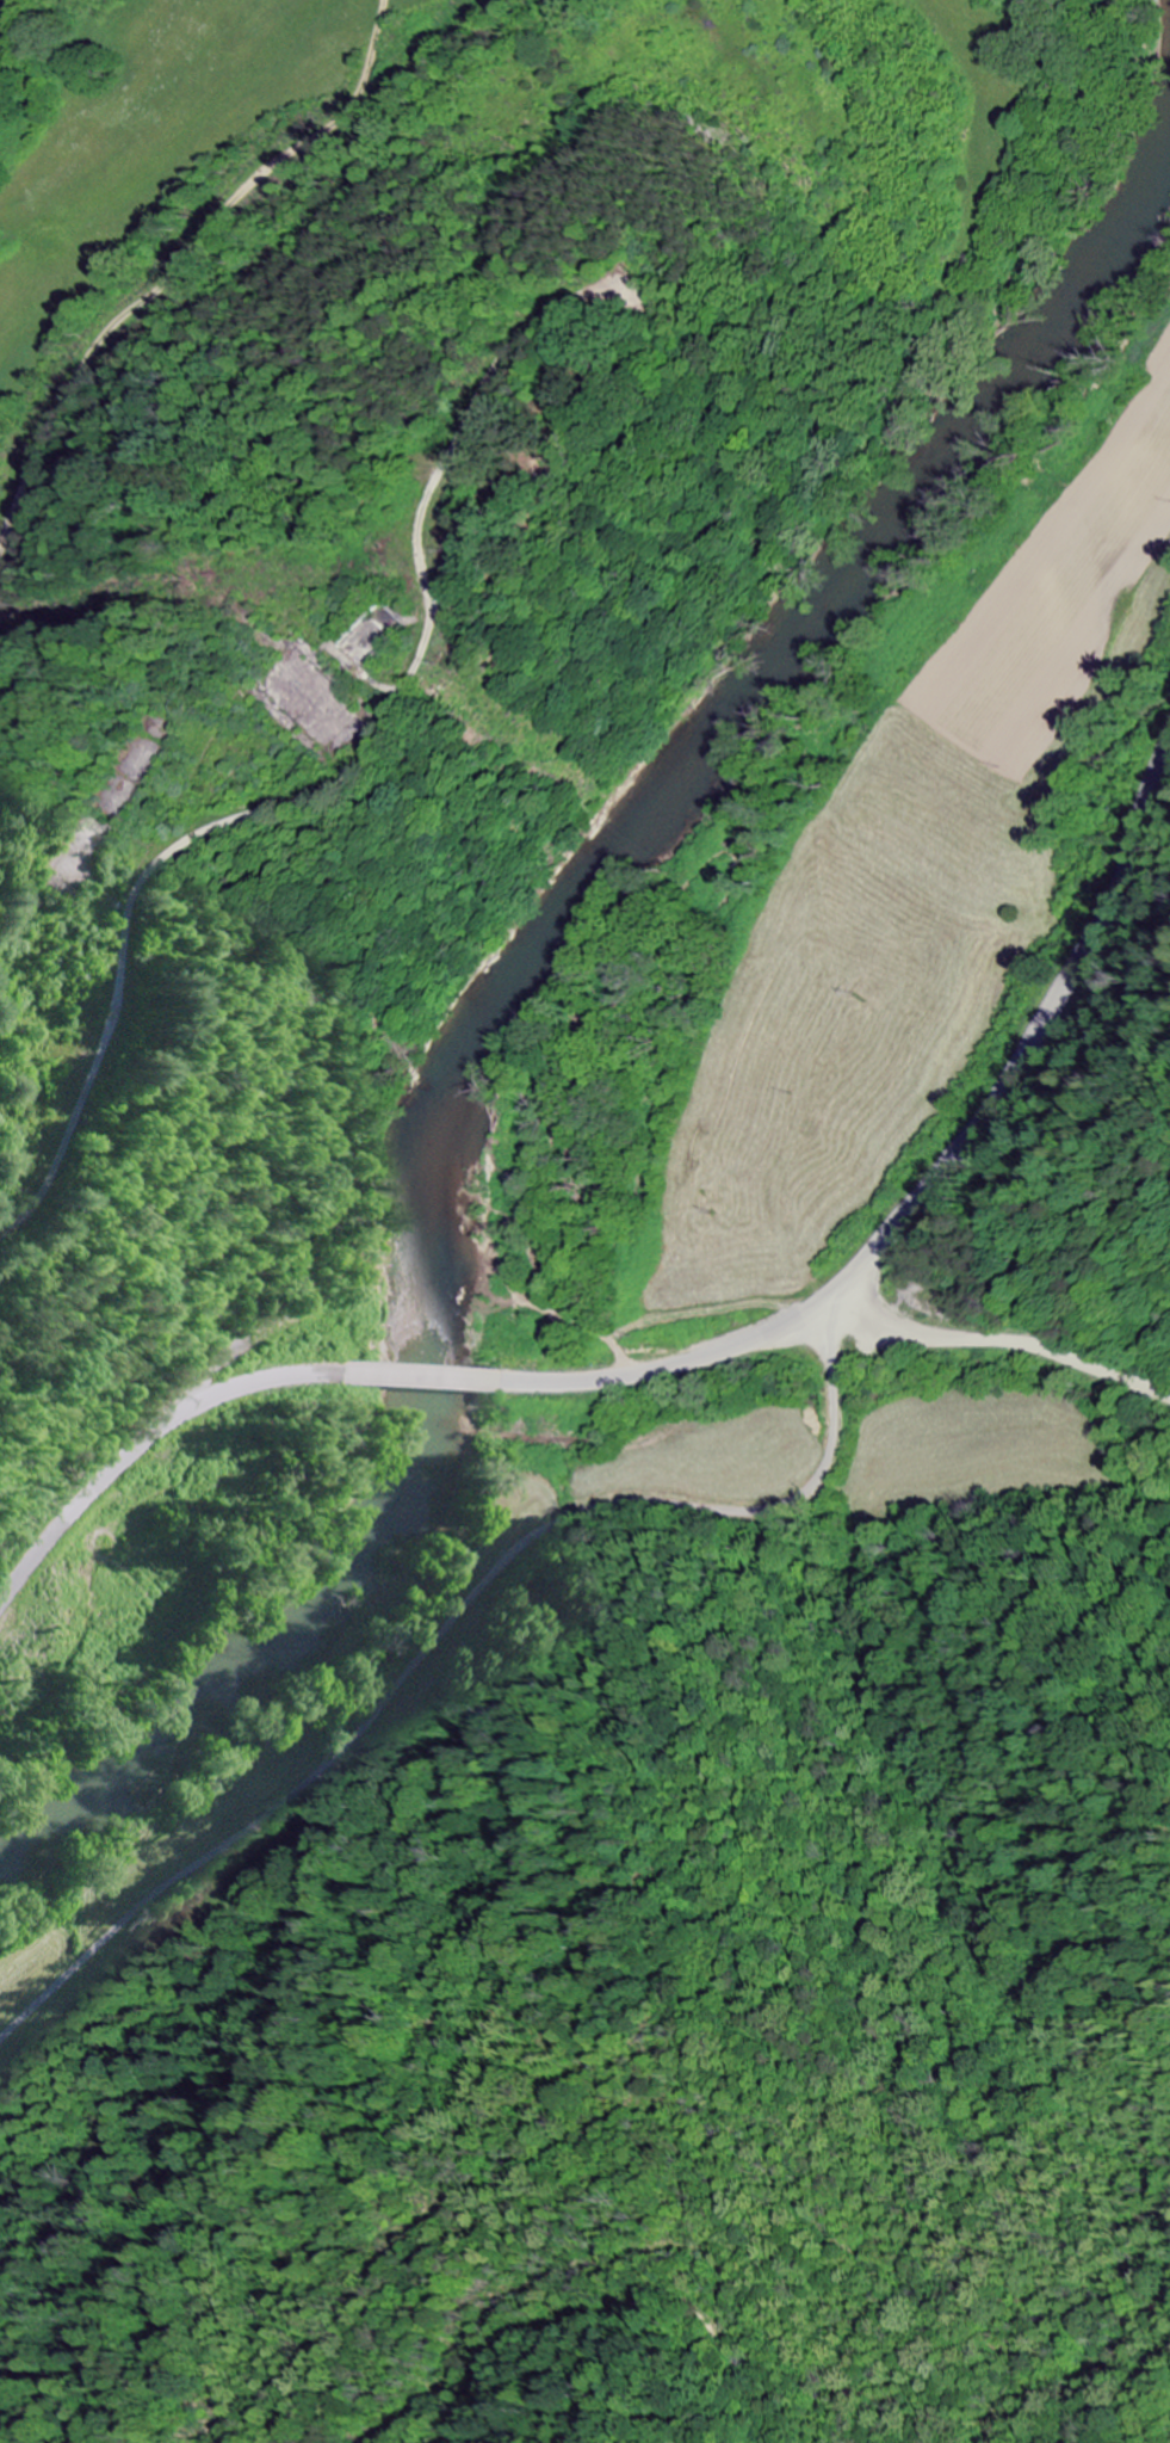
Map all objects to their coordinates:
park: (497, 477)
road: (168, 888)
river: (519, 970)
road: (1042, 1029)
road: (1013, 1309)
road: (426, 1332)
road: (683, 1358)
road: (159, 1421)
road: (460, 1615)

